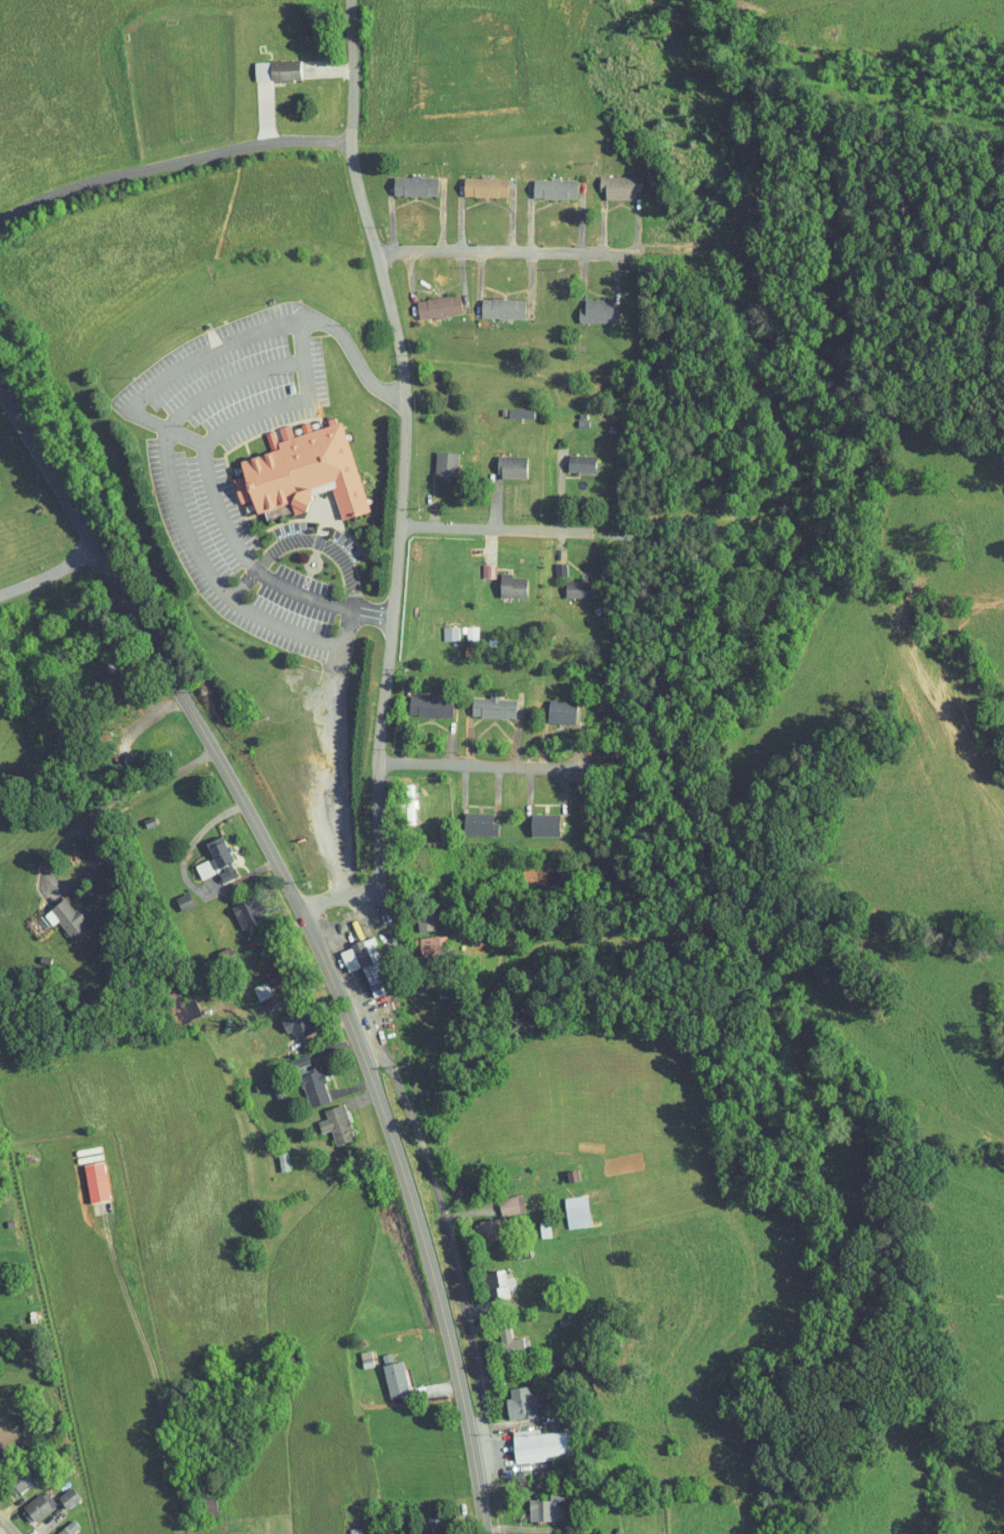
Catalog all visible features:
building: (265, 64)
road: (171, 163)
building: (403, 180)
building: (473, 181)
building: (607, 181)
building: (543, 183)
road: (573, 254)
building: (427, 301)
building: (491, 303)
building: (586, 306)
road: (315, 339)
road: (269, 366)
road: (198, 437)
building: (570, 458)
building: (434, 461)
building: (500, 462)
building: (290, 467)
parking lot: (201, 469)
road: (402, 489)
road: (510, 525)
road: (334, 544)
building: (548, 564)
building: (476, 565)
road: (48, 572)
building: (501, 581)
building: (567, 583)
road: (230, 586)
building: (439, 627)
building: (419, 699)
building: (481, 700)
building: (550, 705)
road: (504, 766)
building: (468, 817)
building: (533, 818)
road: (73, 828)
building: (210, 853)
building: (193, 863)
building: (173, 895)
building: (235, 905)
building: (56, 912)
building: (413, 915)
road: (310, 932)
building: (420, 939)
building: (356, 958)
building: (250, 984)
building: (285, 1017)
building: (299, 1075)
building: (325, 1117)
building: (271, 1155)
building: (84, 1175)
building: (499, 1199)
building: (565, 1205)
building: (476, 1224)
road: (446, 1251)
building: (486, 1276)
building: (498, 1337)
building: (384, 1374)
building: (509, 1397)
building: (2, 1429)
building: (530, 1440)
building: (10, 1474)
building: (543, 1490)
building: (57, 1492)
building: (26, 1501)
building: (198, 1502)
building: (528, 1504)
building: (55, 1526)
road: (4, 1529)
building: (535, 1533)

